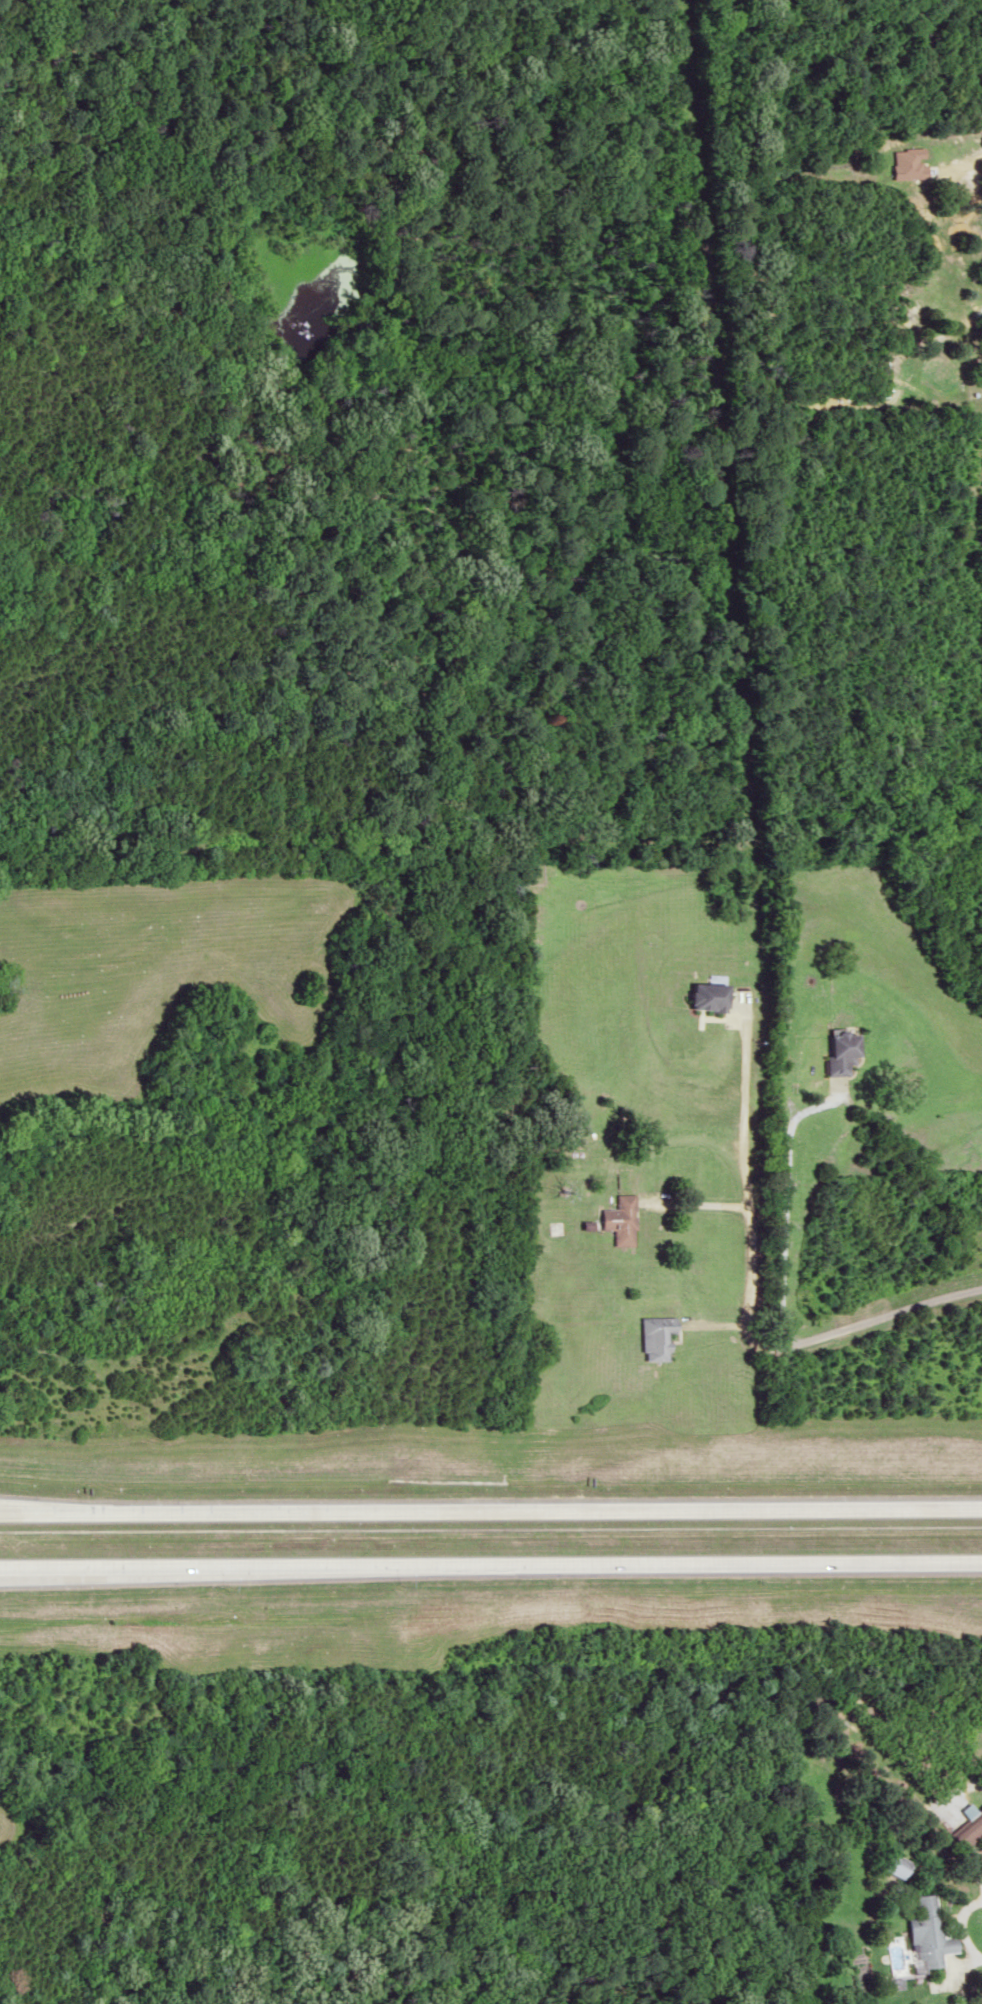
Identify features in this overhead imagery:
road: (108, 13)
building: (705, 994)
building: (835, 1052)
building: (615, 1220)
road: (781, 1304)
building: (652, 1336)
road: (491, 1512)
road: (491, 1567)
building: (967, 1829)
building: (889, 1868)
building: (925, 1931)

